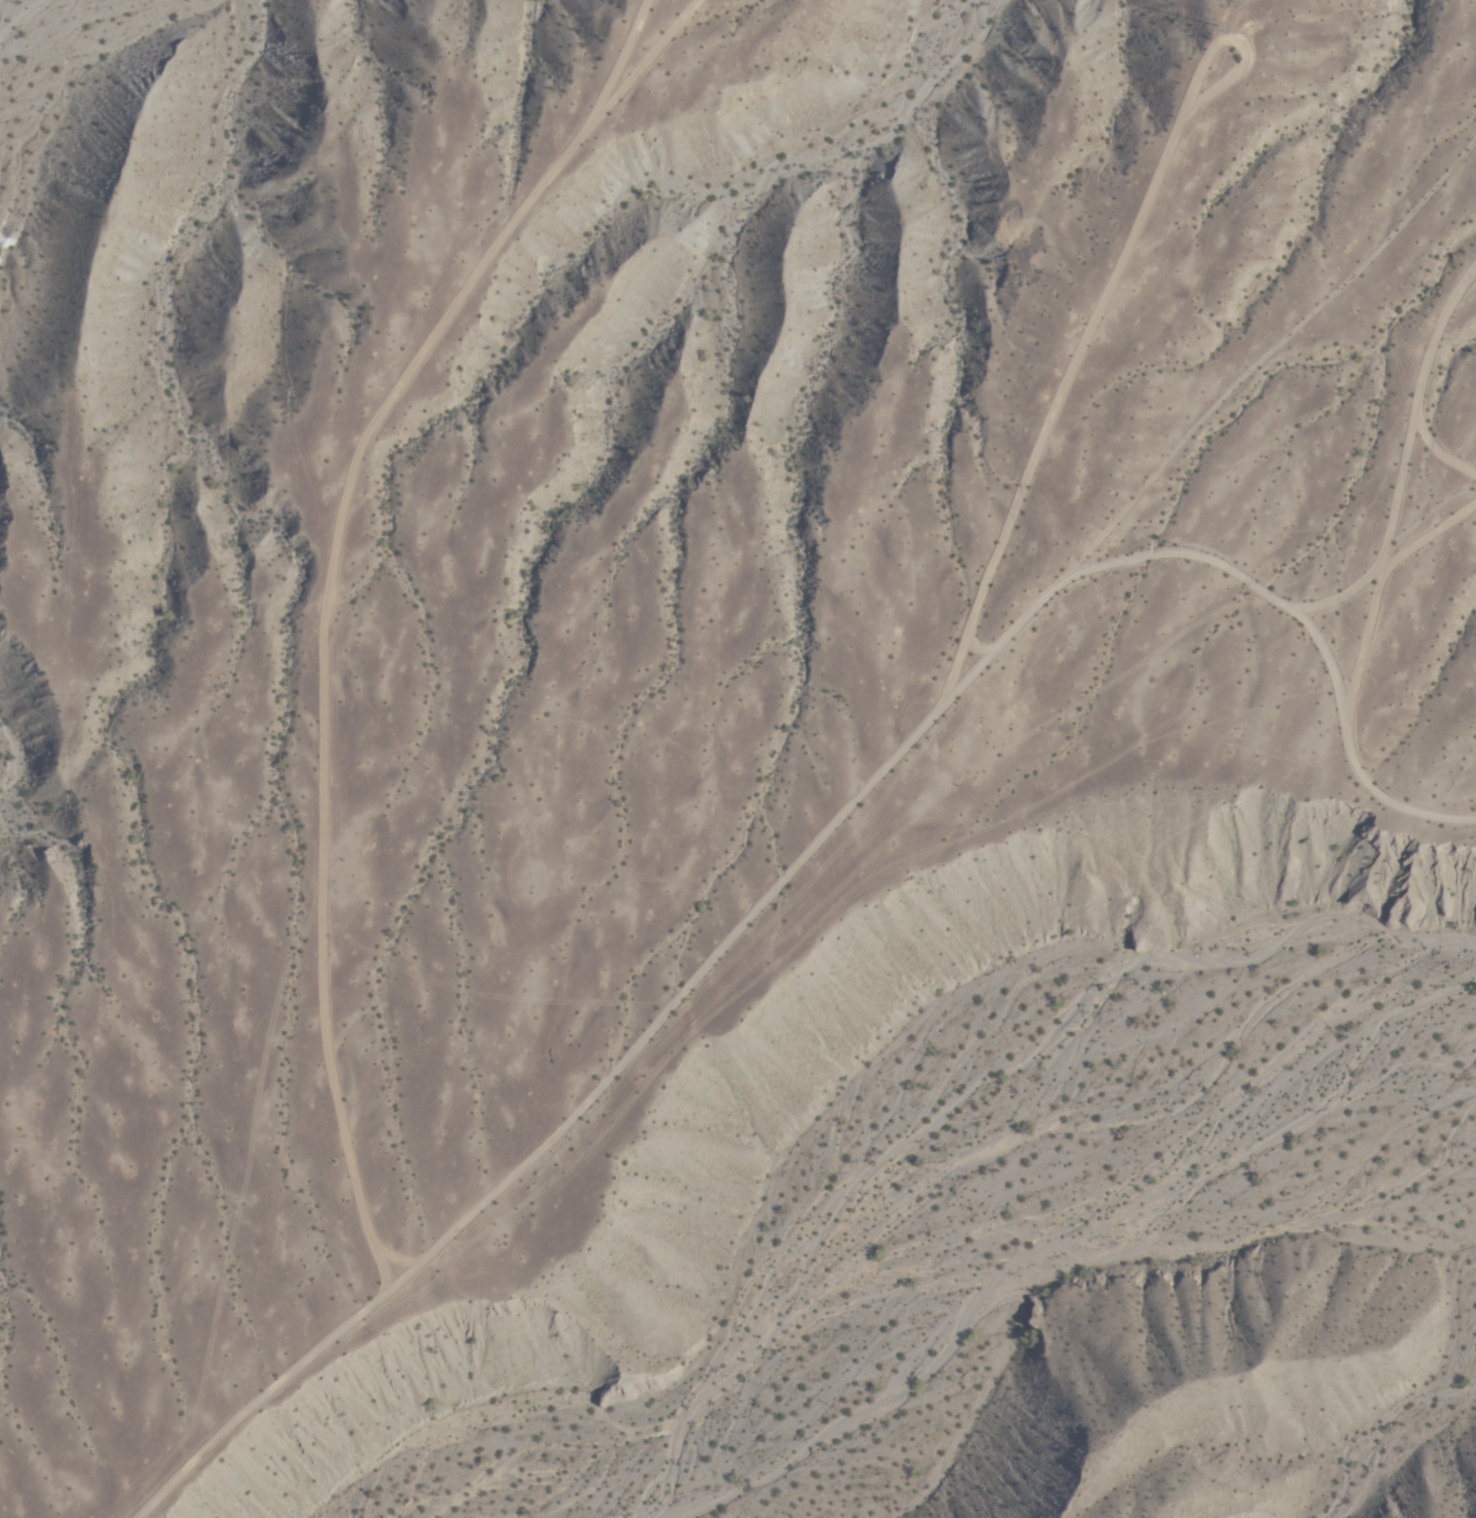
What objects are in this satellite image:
road: (1320, 550)

